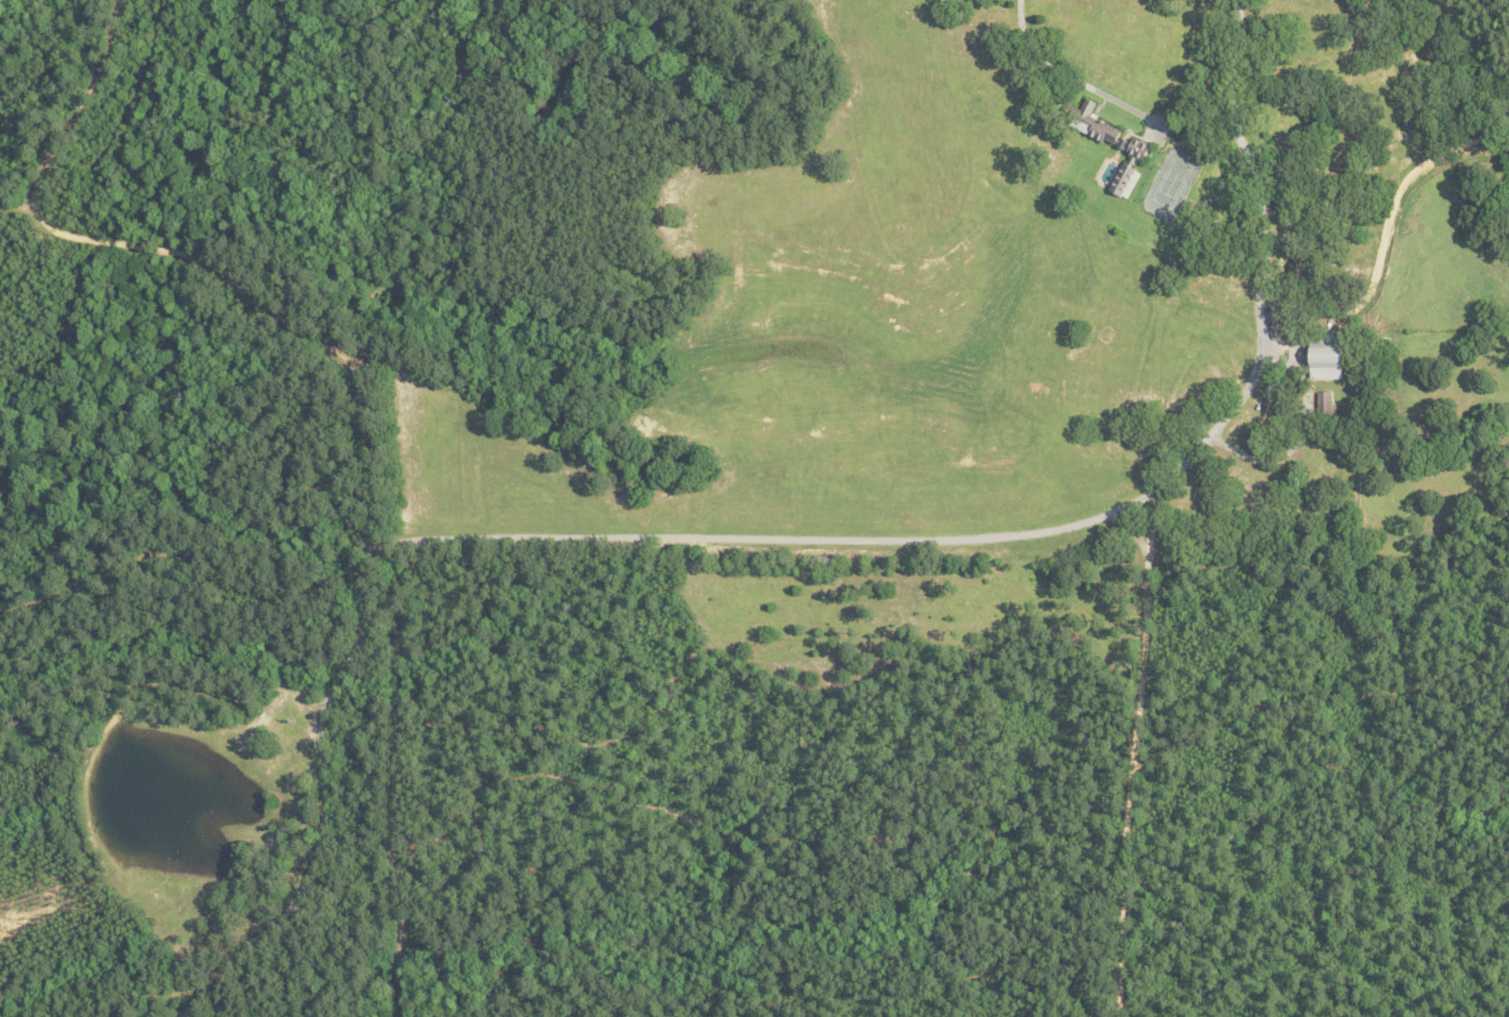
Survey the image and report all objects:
building: (1105, 130)
building: (1127, 180)
building: (1331, 362)
road: (1146, 759)

